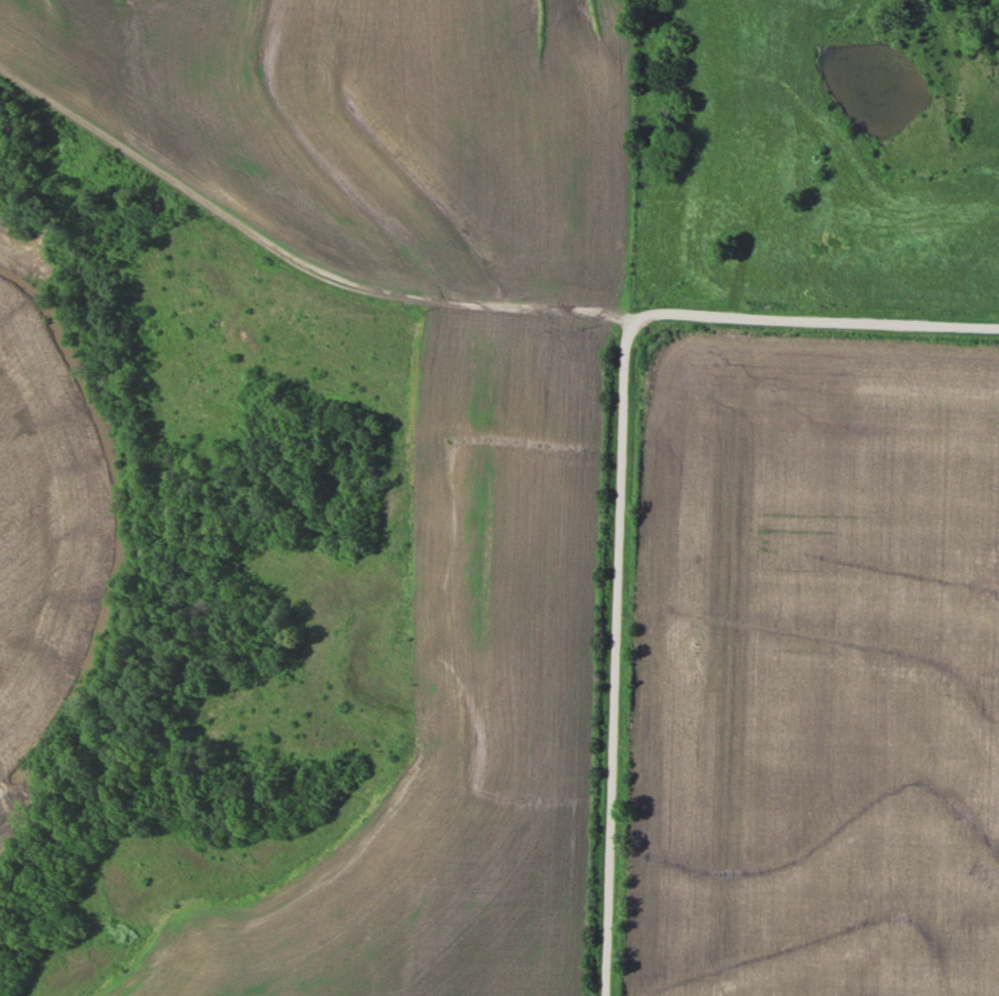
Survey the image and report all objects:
road: (291, 258)
road: (814, 319)
crop: (48, 504)
road: (613, 656)

